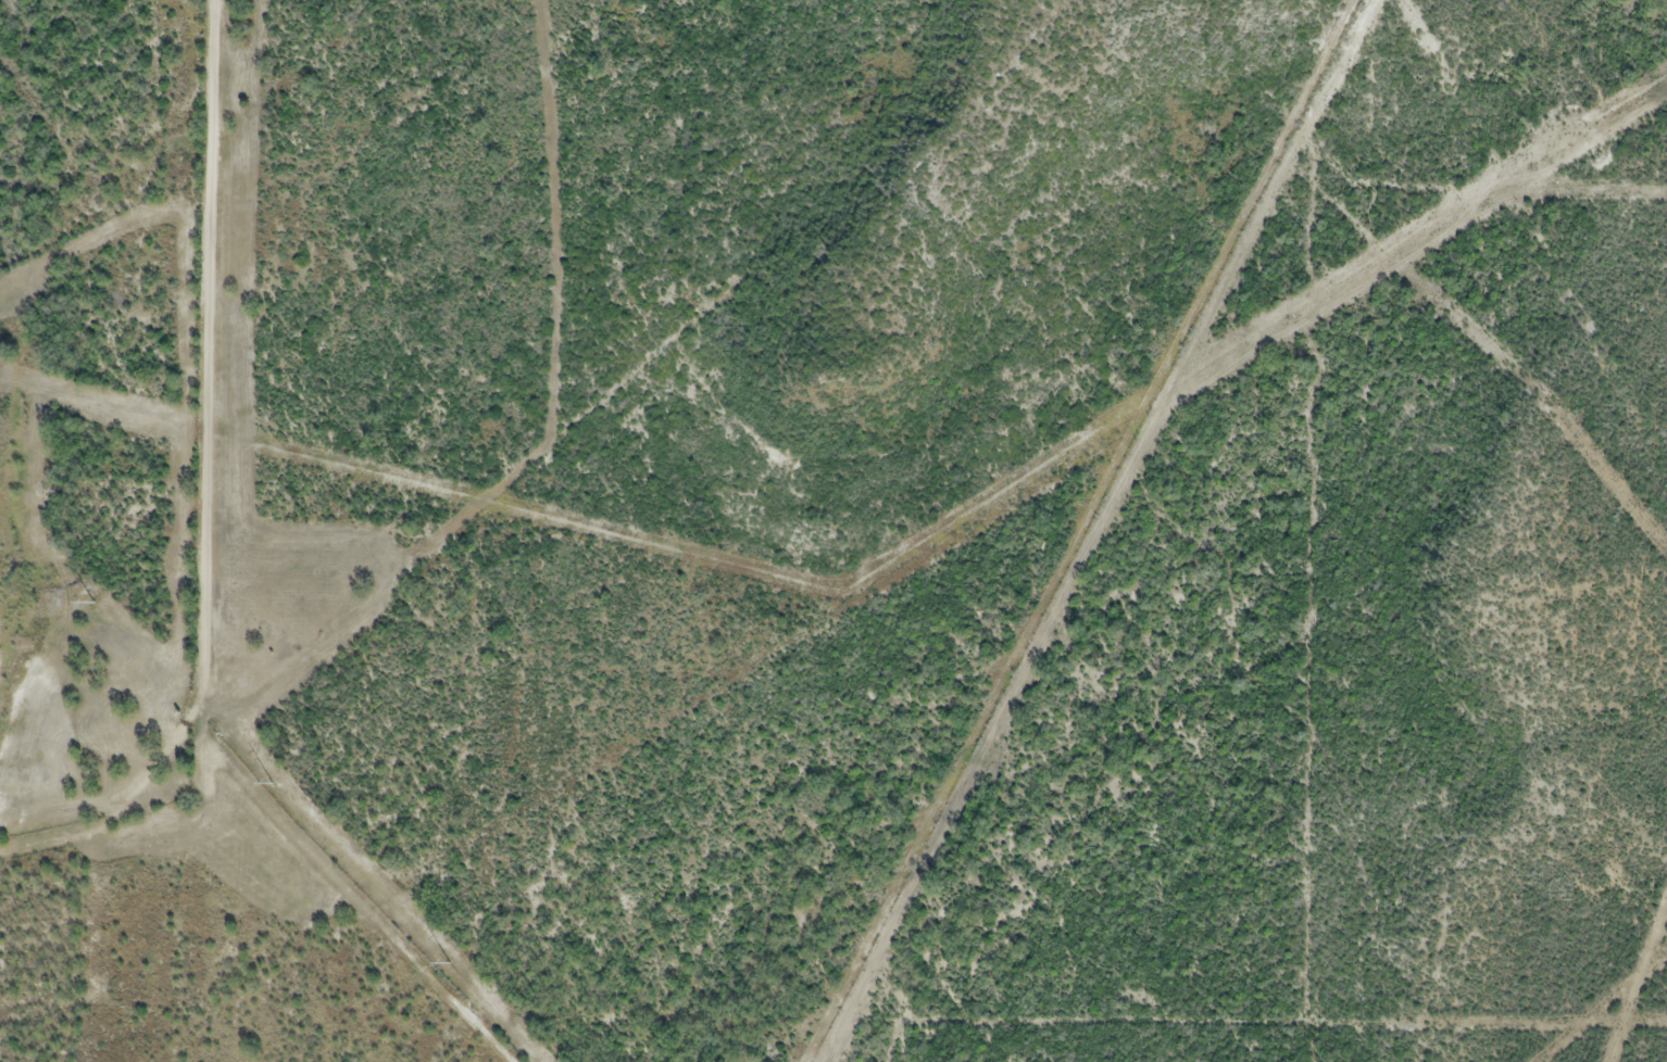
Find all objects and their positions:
road: (206, 361)
power tower: (95, 603)
power tower: (273, 784)
power tower: (449, 963)

